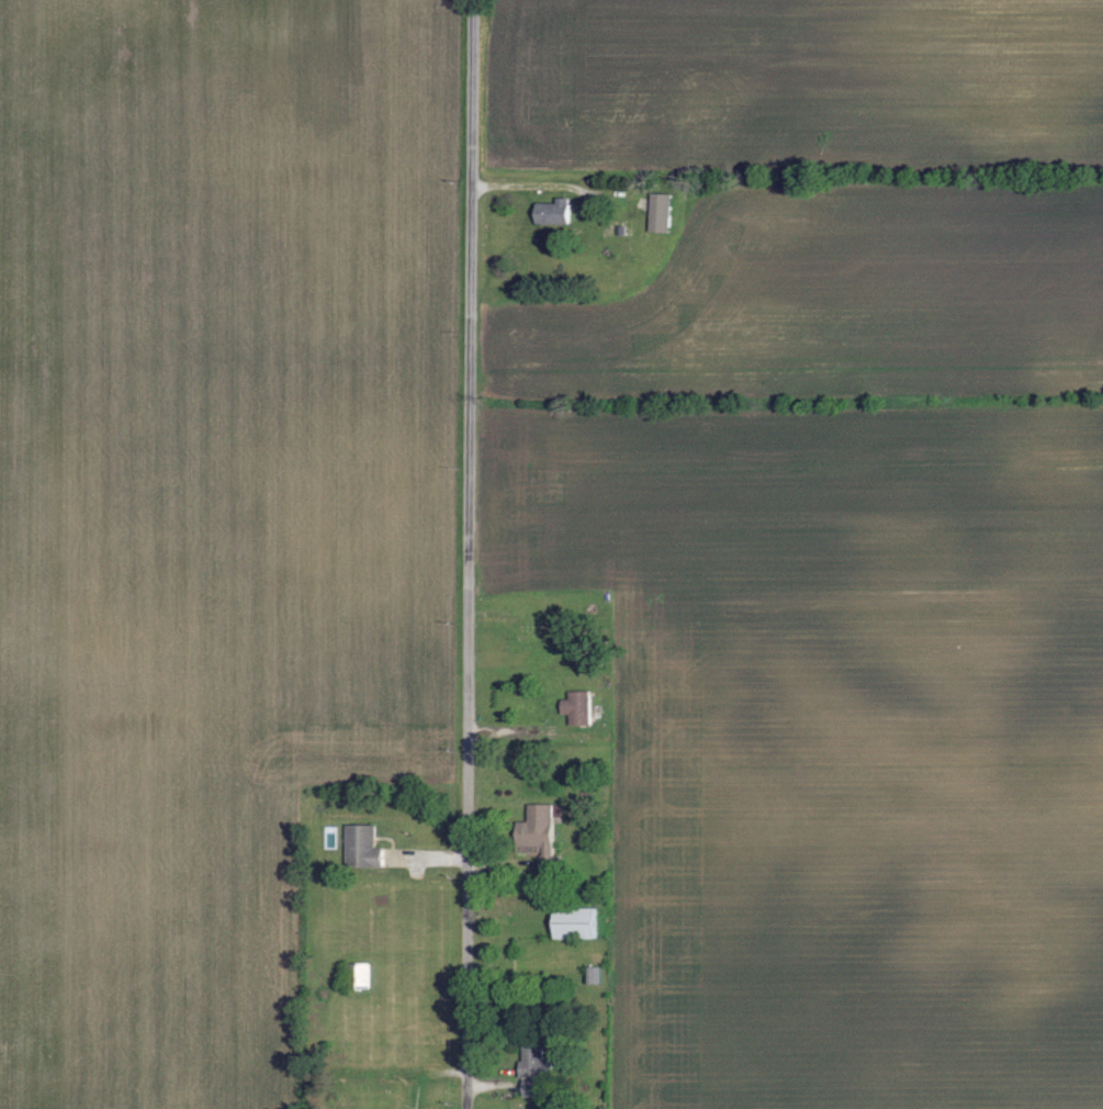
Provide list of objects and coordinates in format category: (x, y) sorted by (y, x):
building: (558, 211)
building: (664, 212)
road: (476, 554)
building: (582, 707)
building: (542, 828)
building: (368, 847)
building: (581, 923)

